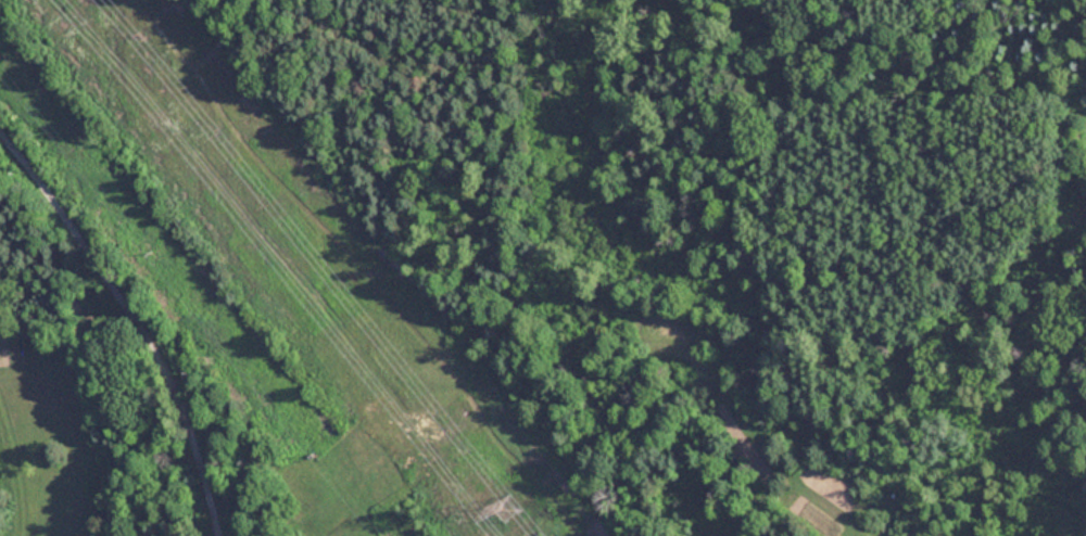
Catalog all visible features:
road: (134, 322)
power tower: (512, 511)

